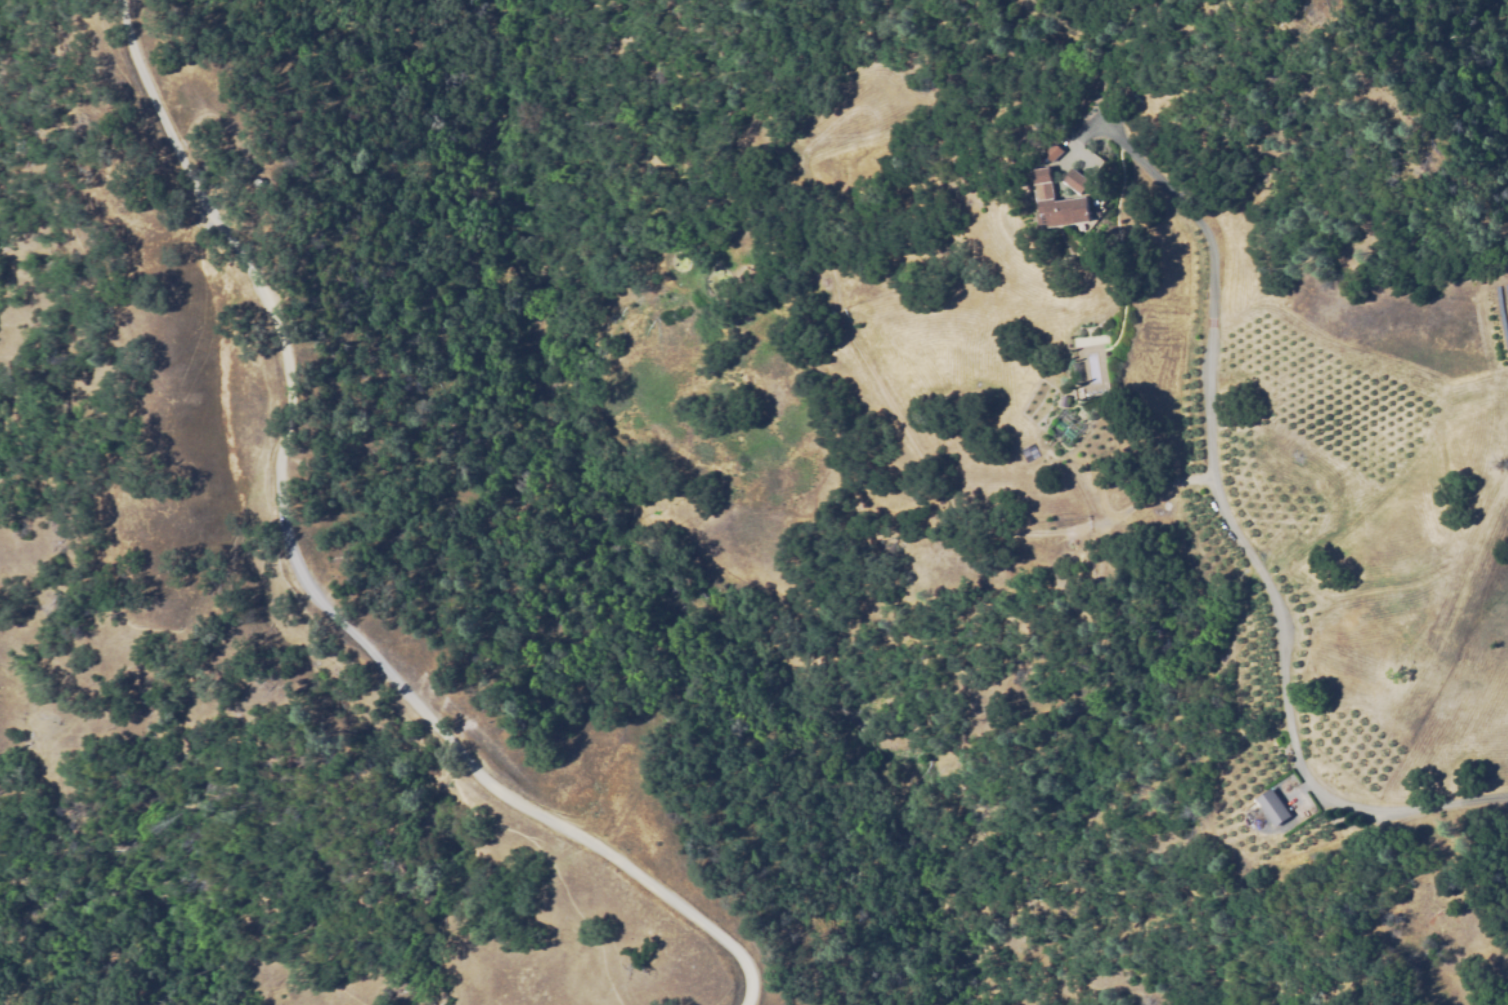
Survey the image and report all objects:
road: (184, 167)
building: (1075, 179)
building: (1058, 201)
building: (1074, 371)
building: (1031, 456)
road: (1247, 539)
road: (433, 717)
building: (1275, 812)

